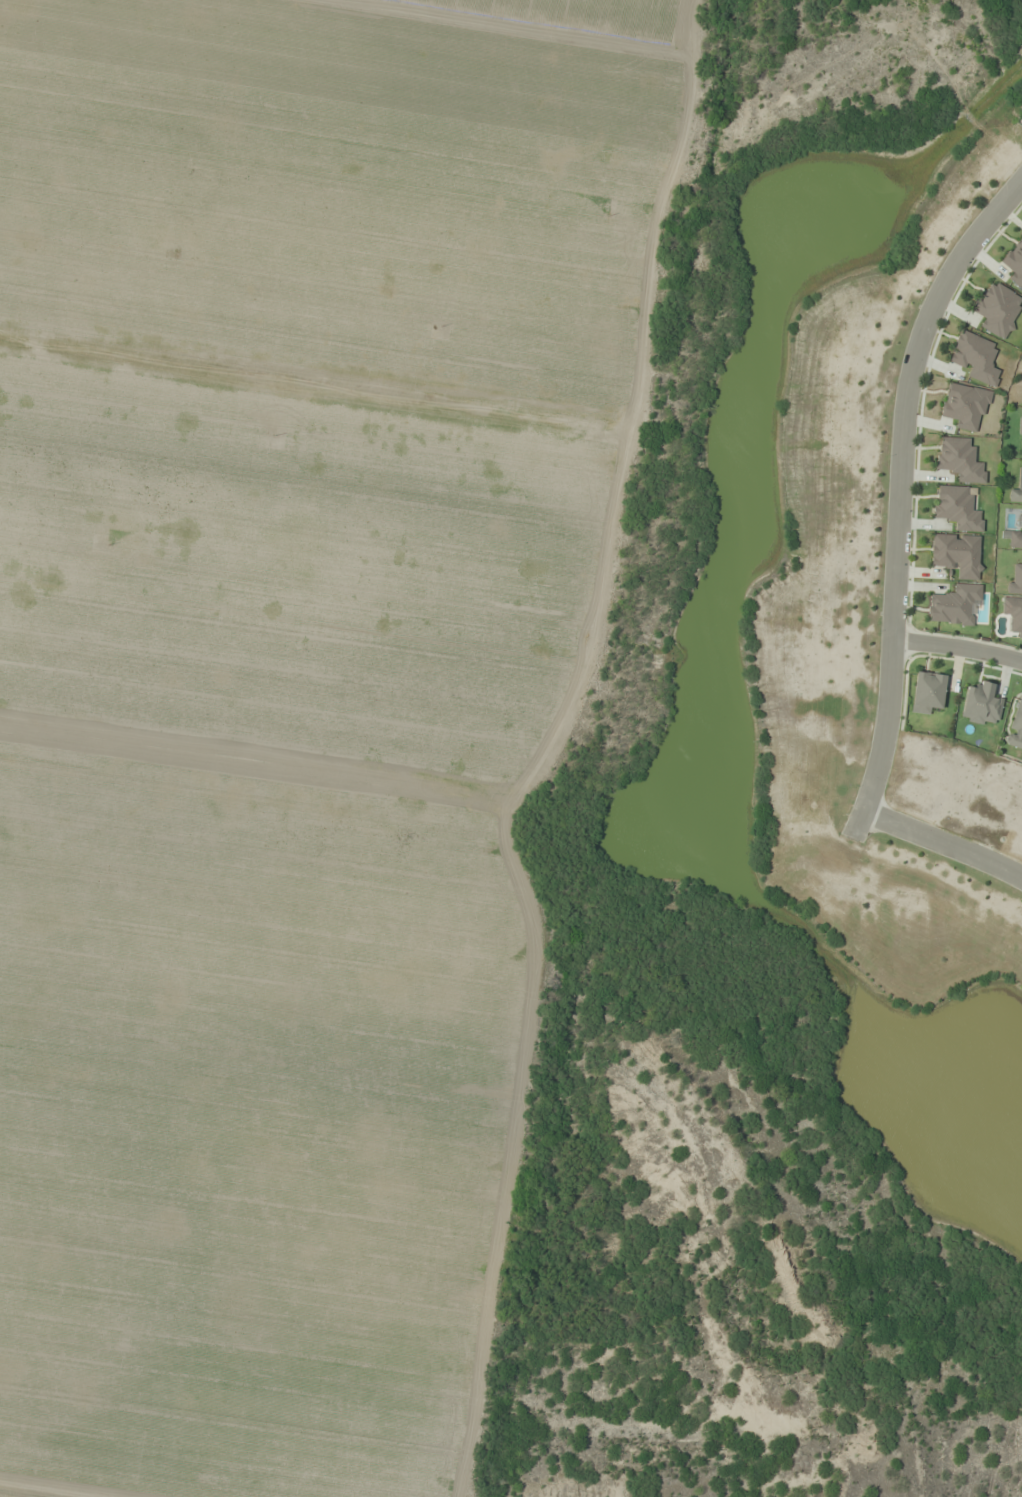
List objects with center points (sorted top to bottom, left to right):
building: (1014, 263)
building: (996, 308)
building: (975, 357)
building: (963, 405)
building: (1020, 425)
building: (1020, 451)
building: (958, 459)
road: (899, 478)
building: (1016, 489)
building: (955, 508)
building: (1014, 534)
building: (956, 554)
building: (1016, 576)
building: (953, 605)
building: (1013, 615)
road: (958, 645)
building: (927, 691)
building: (981, 704)
building: (1015, 725)
road: (856, 822)
road: (942, 844)

